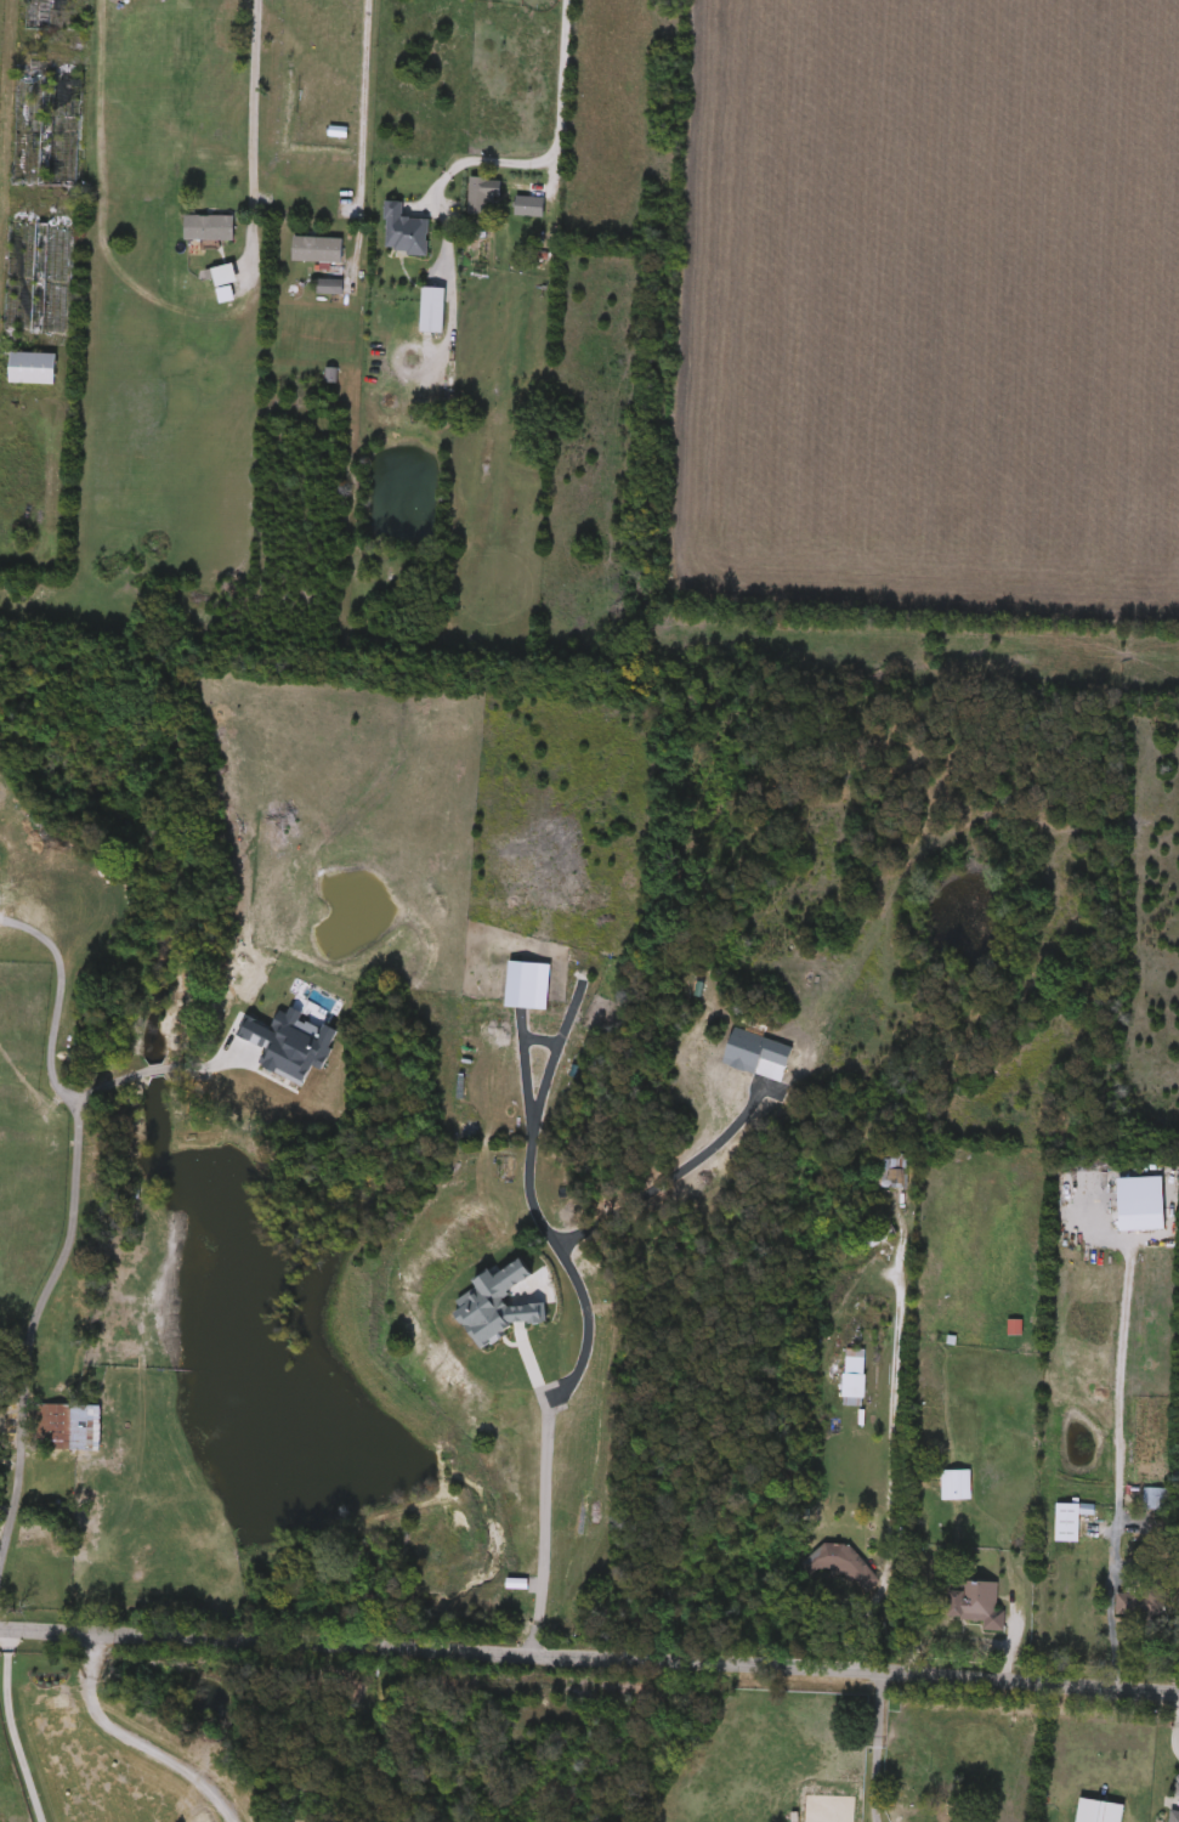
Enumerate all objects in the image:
building: (39, 16)
road: (254, 96)
road: (363, 114)
building: (46, 131)
road: (557, 148)
building: (480, 198)
building: (209, 230)
building: (318, 253)
building: (225, 283)
building: (329, 289)
building: (34, 372)
road: (53, 1001)
road: (652, 1186)
road: (532, 1210)
building: (872, 1244)
road: (55, 1272)
building: (855, 1377)
building: (66, 1430)
road: (1116, 1436)
road: (889, 1466)
building: (956, 1487)
building: (1156, 1503)
building: (1070, 1523)
road: (540, 1526)
building: (851, 1569)
building: (976, 1607)
road: (6, 1641)
road: (589, 1659)
road: (16, 1736)
road: (135, 1743)
road: (875, 1748)
building: (1175, 1790)
building: (1098, 1812)
building: (1173, 1816)

